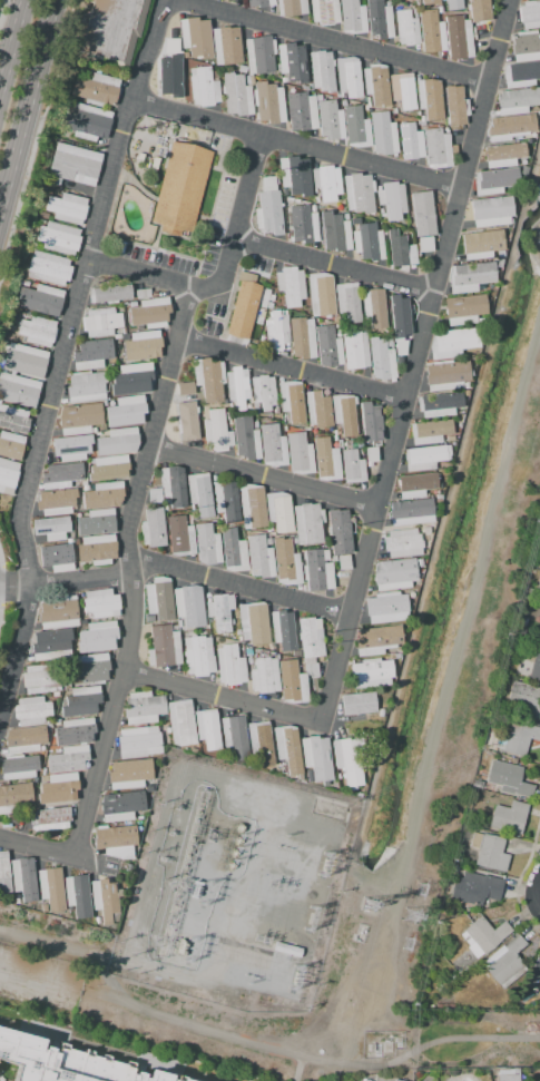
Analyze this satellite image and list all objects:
building: (418, 2)
building: (429, 2)
building: (259, 3)
building: (453, 4)
building: (291, 7)
building: (439, 9)
building: (413, 10)
building: (479, 10)
building: (324, 11)
building: (530, 14)
building: (352, 16)
building: (379, 19)
building: (406, 28)
building: (108, 32)
building: (431, 32)
building: (195, 37)
building: (459, 38)
road: (10, 40)
road: (335, 40)
building: (170, 41)
building: (226, 46)
building: (526, 46)
building: (185, 55)
building: (259, 55)
building: (292, 62)
building: (242, 69)
building: (322, 71)
building: (522, 75)
building: (347, 77)
building: (283, 79)
building: (170, 80)
building: (376, 85)
building: (204, 87)
building: (310, 87)
building: (304, 88)
building: (95, 89)
building: (402, 90)
building: (236, 96)
building: (317, 97)
building: (429, 98)
building: (517, 100)
building: (343, 102)
road: (27, 104)
building: (268, 104)
building: (455, 106)
building: (365, 107)
building: (301, 111)
building: (330, 119)
building: (420, 120)
building: (86, 121)
building: (356, 127)
building: (510, 127)
building: (382, 134)
building: (518, 138)
building: (411, 139)
building: (530, 139)
road: (296, 145)
building: (436, 148)
building: (504, 155)
building: (73, 165)
building: (524, 170)
building: (294, 175)
building: (494, 180)
building: (326, 181)
building: (268, 183)
building: (180, 186)
building: (314, 189)
building: (359, 193)
building: (316, 200)
building: (392, 200)
building: (67, 207)
building: (312, 208)
building: (491, 212)
building: (268, 213)
building: (423, 214)
building: (42, 215)
building: (382, 215)
building: (345, 216)
building: (355, 220)
building: (303, 224)
building: (334, 232)
building: (58, 238)
building: (367, 242)
building: (481, 244)
building: (424, 245)
building: (32, 246)
building: (400, 249)
building: (500, 254)
road: (336, 261)
building: (500, 263)
building: (48, 268)
road: (136, 275)
building: (470, 276)
building: (23, 283)
building: (289, 285)
building: (141, 293)
building: (109, 294)
building: (154, 294)
building: (320, 295)
building: (271, 298)
building: (40, 299)
building: (347, 302)
building: (131, 305)
building: (269, 305)
building: (244, 306)
building: (373, 308)
building: (464, 309)
building: (150, 313)
building: (14, 315)
building: (399, 316)
building: (327, 317)
building: (335, 320)
building: (100, 322)
building: (138, 327)
building: (278, 328)
building: (37, 331)
building: (389, 332)
building: (337, 335)
building: (117, 336)
building: (126, 337)
building: (301, 338)
building: (389, 342)
building: (453, 342)
building: (141, 346)
building: (327, 347)
building: (354, 350)
building: (91, 354)
road: (60, 356)
building: (24, 360)
building: (381, 360)
road: (418, 361)
road: (292, 368)
building: (446, 375)
building: (132, 379)
building: (209, 379)
building: (467, 385)
building: (237, 386)
building: (86, 387)
building: (185, 387)
building: (18, 390)
building: (264, 392)
building: (467, 393)
building: (291, 401)
building: (440, 403)
building: (317, 409)
building: (125, 411)
building: (344, 413)
building: (13, 419)
building: (79, 419)
building: (186, 420)
building: (229, 422)
building: (371, 422)
building: (255, 424)
building: (283, 429)
building: (216, 431)
building: (335, 432)
building: (432, 432)
building: (245, 439)
building: (117, 442)
building: (11, 445)
building: (272, 445)
building: (69, 448)
building: (298, 453)
building: (371, 455)
building: (425, 456)
building: (325, 459)
building: (352, 466)
building: (109, 468)
building: (8, 475)
building: (61, 475)
road: (265, 476)
road: (140, 481)
building: (174, 485)
building: (418, 485)
building: (432, 492)
building: (104, 494)
building: (154, 495)
building: (200, 495)
building: (439, 499)
building: (56, 501)
building: (166, 501)
building: (227, 501)
building: (252, 505)
building: (165, 508)
building: (192, 509)
building: (279, 511)
building: (411, 511)
building: (193, 517)
building: (217, 520)
building: (96, 522)
building: (307, 523)
building: (51, 528)
building: (153, 528)
building: (338, 531)
building: (426, 531)
building: (272, 534)
building: (179, 535)
building: (69, 540)
building: (294, 541)
building: (268, 542)
building: (206, 543)
building: (403, 543)
building: (96, 550)
building: (233, 551)
building: (57, 557)
building: (258, 557)
building: (333, 559)
building: (286, 562)
building: (344, 562)
building: (419, 562)
building: (316, 570)
building: (394, 574)
road: (66, 579)
road: (240, 588)
building: (538, 590)
building: (527, 592)
building: (159, 599)
building: (101, 603)
building: (189, 606)
building: (386, 607)
building: (219, 611)
building: (58, 612)
building: (149, 619)
building: (253, 622)
building: (178, 623)
building: (282, 630)
building: (539, 631)
building: (237, 632)
building: (98, 636)
building: (311, 637)
building: (238, 639)
building: (376, 639)
building: (49, 646)
building: (165, 649)
building: (399, 649)
building: (296, 653)
building: (198, 656)
building: (396, 656)
building: (67, 657)
building: (277, 657)
building: (531, 660)
building: (308, 661)
building: (300, 665)
building: (230, 666)
building: (88, 669)
building: (313, 671)
building: (371, 674)
building: (264, 676)
building: (503, 678)
building: (41, 679)
building: (292, 682)
building: (66, 686)
road: (444, 689)
building: (56, 694)
road: (224, 696)
building: (524, 698)
building: (81, 701)
building: (357, 702)
building: (141, 708)
building: (31, 710)
building: (57, 720)
building: (180, 723)
building: (537, 726)
building: (208, 728)
building: (73, 731)
building: (234, 736)
building: (520, 738)
building: (24, 739)
building: (500, 739)
building: (137, 741)
building: (259, 743)
building: (287, 749)
building: (485, 753)
building: (316, 757)
building: (68, 758)
building: (347, 761)
building: (18, 766)
building: (129, 774)
building: (308, 776)
building: (300, 777)
building: (509, 780)
building: (325, 784)
building: (477, 784)
building: (59, 786)
road: (246, 787)
building: (14, 796)
building: (50, 799)
building: (120, 806)
building: (509, 817)
building: (50, 818)
building: (116, 841)
building: (489, 852)
road: (63, 855)
building: (452, 867)
building: (4, 873)
building: (23, 878)
road: (519, 878)
power substation: (240, 883)
building: (51, 888)
building: (475, 888)
building: (195, 891)
building: (78, 895)
building: (17, 898)
building: (106, 900)
building: (43, 907)
power tower: (372, 911)
building: (96, 920)
power tower: (411, 922)
building: (483, 936)
road: (48, 946)
building: (179, 949)
building: (286, 951)
building: (505, 963)
building: (534, 967)
building: (451, 976)
parking lot: (39, 981)
building: (446, 981)
road: (39, 983)
road: (342, 986)
building: (440, 986)
road: (97, 999)
building: (438, 1005)
building: (431, 1006)
building: (449, 1006)
park: (472, 1039)
building: (397, 1040)
building: (399, 1045)
building: (379, 1046)
building: (371, 1048)
building: (387, 1048)
road: (302, 1058)
building: (65, 1063)
road: (295, 1069)
building: (508, 1074)
road: (384, 1079)
building: (396, 1080)

